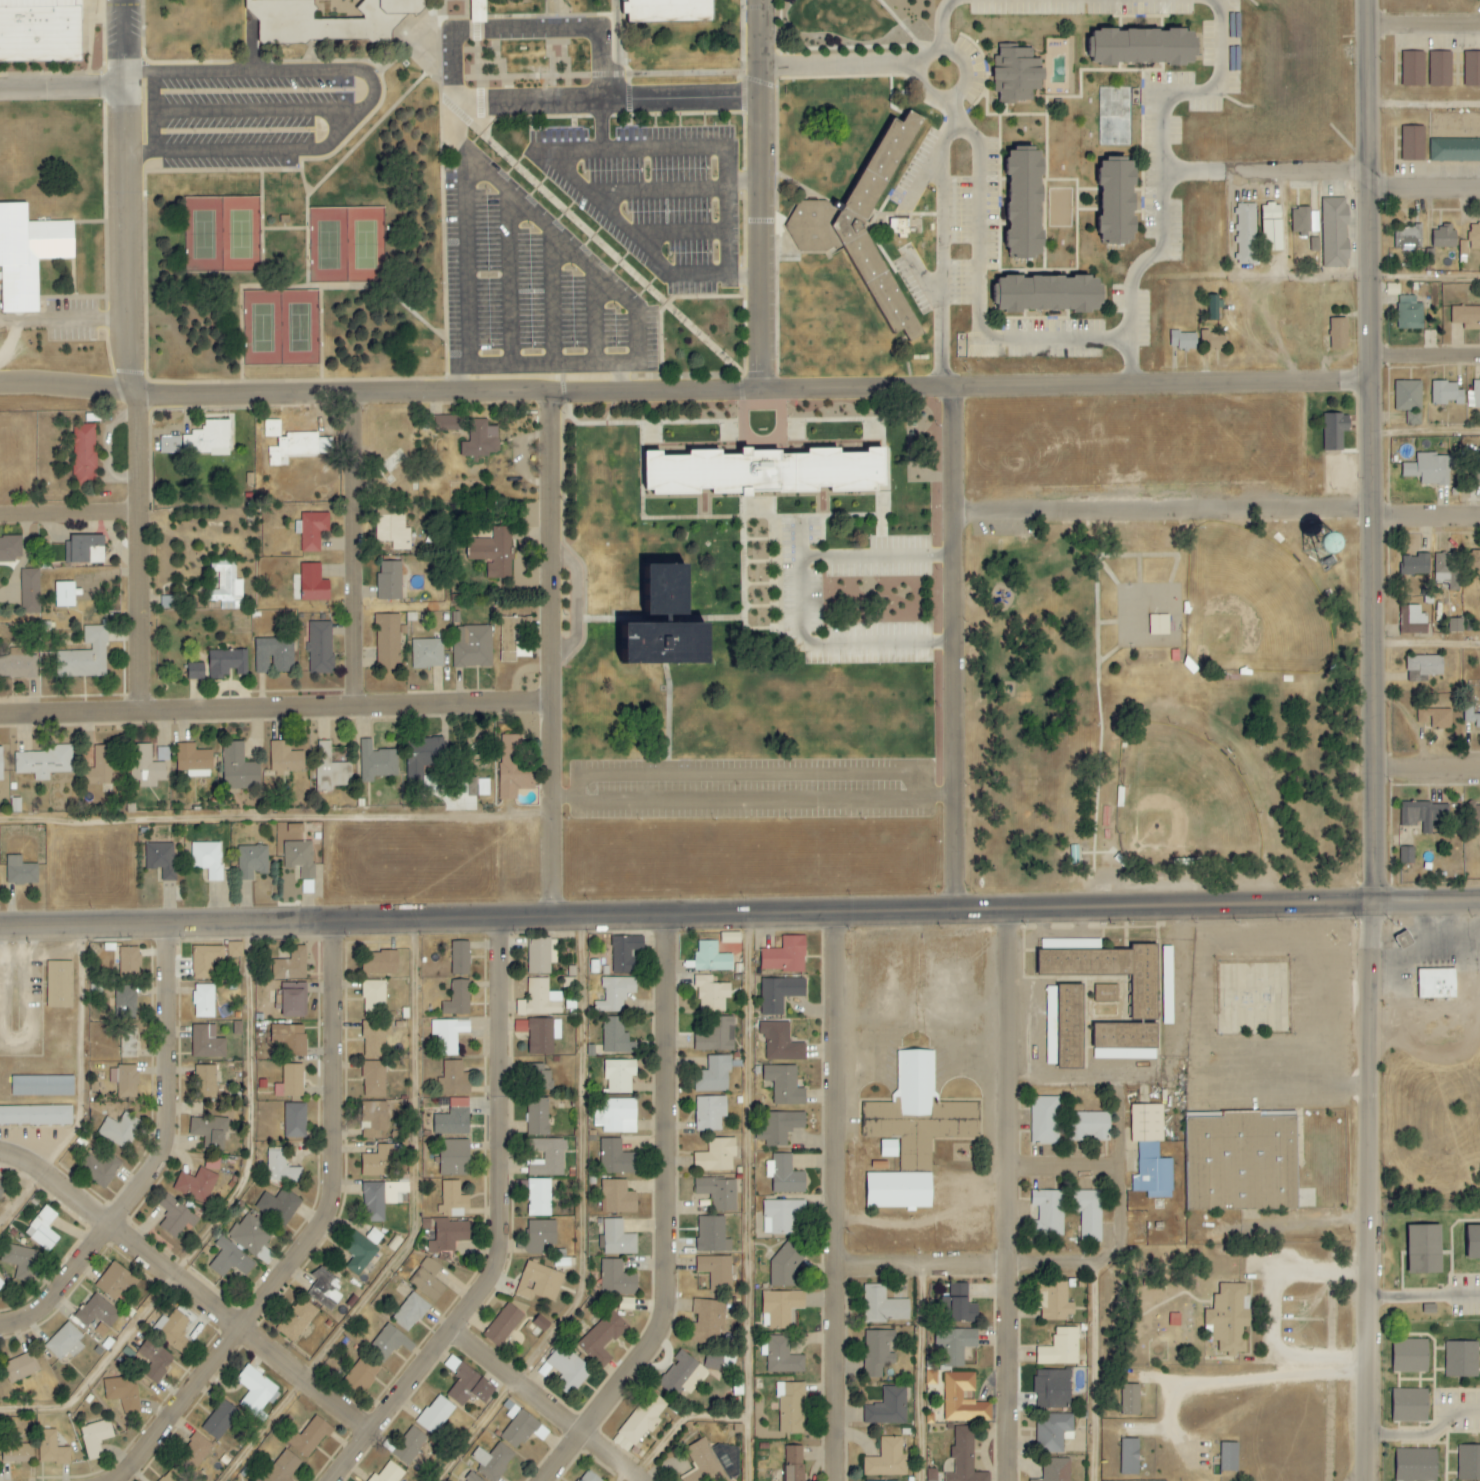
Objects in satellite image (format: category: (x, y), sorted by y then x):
building: (669, 10)
building: (473, 11)
building: (294, 22)
road: (940, 22)
road: (1422, 23)
road: (525, 29)
building: (40, 30)
road: (412, 36)
road: (122, 43)
building: (1141, 48)
road: (309, 53)
road: (420, 53)
road: (621, 62)
road: (839, 65)
building: (1413, 69)
building: (1440, 69)
building: (1472, 69)
road: (278, 71)
road: (137, 73)
road: (639, 74)
building: (1016, 75)
road: (478, 78)
road: (1365, 85)
road: (61, 88)
road: (382, 89)
road: (956, 89)
road: (1191, 89)
road: (678, 99)
road: (527, 102)
road: (1423, 104)
road: (258, 110)
road: (151, 113)
parking lot: (251, 114)
road: (454, 122)
road: (600, 124)
road: (956, 131)
building: (1412, 144)
road: (696, 146)
building: (1454, 150)
road: (266, 151)
road: (137, 153)
road: (235, 171)
road: (1279, 174)
road: (742, 182)
road: (1423, 188)
road: (655, 190)
road: (759, 195)
building: (1115, 203)
parking lot: (569, 205)
building: (1023, 205)
road: (260, 220)
building: (1301, 221)
road: (305, 224)
building: (899, 228)
building: (1271, 228)
road: (283, 229)
building: (863, 230)
road: (677, 233)
building: (1334, 233)
park: (220, 234)
building: (1246, 234)
building: (1444, 236)
building: (1474, 236)
road: (442, 237)
road: (942, 238)
building: (1408, 239)
road: (637, 240)
road: (599, 244)
park: (345, 245)
building: (1314, 245)
building: (1463, 248)
road: (1153, 250)
building: (28, 254)
road: (464, 260)
road: (581, 260)
road: (1423, 277)
road: (508, 278)
road: (978, 295)
building: (1045, 295)
road: (551, 298)
road: (704, 298)
building: (1409, 313)
building: (1466, 316)
road: (593, 317)
parking lot: (70, 320)
road: (86, 320)
park: (279, 327)
building: (1338, 333)
building: (1213, 340)
building: (1183, 341)
road: (1424, 356)
road: (538, 365)
road: (458, 378)
road: (65, 385)
road: (957, 387)
road: (338, 393)
building: (1446, 393)
building: (1474, 396)
road: (132, 399)
building: (1409, 400)
building: (448, 422)
road: (745, 425)
building: (271, 428)
building: (1334, 431)
road: (1424, 431)
road: (747, 434)
building: (207, 439)
building: (481, 439)
building: (169, 444)
building: (299, 447)
building: (83, 453)
building: (1428, 469)
building: (765, 471)
building: (1474, 476)
road: (756, 508)
road: (1160, 510)
road: (69, 513)
road: (1425, 516)
building: (312, 531)
building: (392, 531)
water tower: (1319, 542)
building: (10, 549)
building: (84, 549)
road: (350, 550)
building: (497, 553)
building: (1474, 562)
road: (743, 564)
building: (1416, 565)
building: (1447, 570)
building: (389, 580)
building: (313, 584)
building: (226, 586)
building: (29, 591)
building: (65, 594)
parking lot: (801, 600)
road: (804, 600)
road: (574, 602)
park: (1250, 606)
road: (611, 619)
road: (714, 619)
building: (1412, 620)
building: (663, 622)
building: (1158, 624)
building: (1455, 625)
building: (506, 636)
building: (387, 641)
road: (1425, 644)
building: (472, 646)
building: (320, 648)
road: (952, 649)
building: (427, 653)
building: (273, 655)
road: (548, 655)
building: (84, 656)
building: (227, 663)
building: (18, 665)
building: (1425, 665)
building: (194, 671)
road: (274, 708)
park: (1161, 708)
road: (667, 711)
building: (1471, 716)
building: (1435, 718)
building: (193, 760)
building: (284, 760)
building: (376, 761)
building: (44, 762)
building: (0, 765)
building: (101, 766)
building: (145, 767)
building: (237, 768)
building: (513, 768)
road: (1425, 768)
building: (329, 770)
road: (747, 773)
building: (470, 787)
building: (484, 787)
parking lot: (750, 789)
road: (750, 797)
park: (1180, 800)
building: (1475, 813)
building: (1424, 815)
road: (274, 818)
road: (1371, 826)
building: (294, 829)
building: (1407, 855)
building: (299, 858)
building: (161, 859)
building: (207, 859)
building: (251, 862)
building: (20, 871)
building: (307, 887)
road: (739, 914)
building: (234, 949)
building: (624, 953)
building: (541, 955)
building: (784, 955)
building: (459, 957)
building: (711, 957)
building: (205, 960)
building: (378, 962)
building: (128, 963)
building: (290, 964)
building: (1106, 968)
building: (59, 984)
building: (1436, 984)
building: (615, 993)
building: (711, 993)
building: (779, 993)
building: (1106, 993)
building: (373, 998)
building: (457, 998)
building: (539, 999)
building: (203, 1001)
building: (291, 1002)
building: (1063, 1025)
building: (236, 1028)
building: (539, 1034)
building: (448, 1035)
building: (716, 1035)
building: (374, 1037)
building: (616, 1037)
building: (289, 1039)
building: (1124, 1041)
road: (21, 1042)
building: (128, 1042)
building: (206, 1042)
building: (780, 1042)
building: (713, 1074)
building: (539, 1076)
building: (619, 1076)
building: (126, 1077)
building: (453, 1078)
building: (373, 1079)
building: (290, 1081)
building: (206, 1082)
building: (784, 1084)
building: (41, 1085)
road: (88, 1091)
building: (709, 1112)
building: (919, 1113)
building: (35, 1115)
building: (537, 1116)
building: (617, 1116)
building: (374, 1118)
building: (453, 1119)
building: (294, 1120)
building: (1044, 1120)
building: (1089, 1126)
building: (780, 1127)
building: (119, 1130)
building: (209, 1130)
building: (889, 1148)
building: (1150, 1152)
building: (716, 1155)
building: (453, 1157)
building: (547, 1157)
building: (616, 1158)
road: (162, 1160)
building: (1241, 1161)
building: (211, 1162)
building: (378, 1162)
road: (1068, 1167)
building: (280, 1168)
building: (784, 1175)
building: (195, 1185)
building: (1, 1187)
building: (898, 1190)
building: (718, 1193)
road: (1007, 1195)
building: (380, 1197)
building: (538, 1197)
building: (618, 1197)
road: (757, 1197)
road: (841, 1197)
building: (452, 1200)
building: (278, 1206)
building: (1048, 1213)
building: (1088, 1214)
building: (781, 1215)
building: (175, 1216)
road: (672, 1217)
road: (589, 1223)
road: (221, 1224)
road: (505, 1227)
building: (42, 1229)
road: (320, 1231)
road: (420, 1234)
building: (446, 1234)
building: (712, 1235)
building: (373, 1236)
building: (537, 1236)
building: (252, 1237)
building: (617, 1238)
building: (1473, 1242)
building: (394, 1243)
building: (1424, 1250)
building: (358, 1253)
building: (18, 1260)
building: (231, 1260)
road: (1107, 1260)
building: (784, 1266)
road: (1054, 1267)
road: (924, 1270)
building: (717, 1272)
building: (427, 1279)
building: (616, 1279)
building: (115, 1282)
building: (538, 1282)
building: (1, 1283)
road: (193, 1286)
building: (957, 1290)
building: (326, 1291)
building: (1055, 1300)
road: (1429, 1301)
building: (883, 1306)
building: (780, 1307)
building: (960, 1311)
building: (97, 1312)
building: (409, 1312)
building: (1229, 1318)
building: (297, 1320)
road: (1275, 1320)
building: (707, 1321)
building: (503, 1325)
building: (175, 1333)
building: (600, 1335)
building: (64, 1342)
building: (389, 1342)
building: (955, 1344)
building: (1060, 1348)
building: (878, 1352)
building: (782, 1356)
building: (1409, 1356)
building: (1460, 1359)
building: (156, 1365)
building: (18, 1368)
building: (564, 1370)
road: (1102, 1373)
building: (361, 1375)
building: (682, 1375)
road: (928, 1375)
building: (930, 1377)
building: (468, 1387)
building: (1051, 1388)
building: (255, 1391)
building: (121, 1392)
building: (953, 1396)
building: (1130, 1399)
road: (550, 1404)
building: (1409, 1405)
building: (790, 1407)
building: (888, 1407)
building: (510, 1408)
building: (435, 1415)
building: (643, 1417)
building: (219, 1420)
road: (1172, 1421)
road: (683, 1427)
building: (522, 1430)
building: (1053, 1432)
building: (308, 1436)
road: (1432, 1437)
building: (95, 1438)
building: (622, 1443)
building: (409, 1445)
building: (51, 1449)
building: (193, 1452)
building: (16, 1453)
building: (1129, 1456)
building: (964, 1457)
building: (1229, 1457)
building: (887, 1459)
building: (493, 1461)
building: (703, 1463)
building: (792, 1463)
building: (1468, 1463)
building: (1415, 1465)
building: (283, 1467)
building: (1055, 1469)
building: (388, 1473)
building: (172, 1476)
building: (588, 1477)
building: (472, 1478)
building: (255, 1479)

